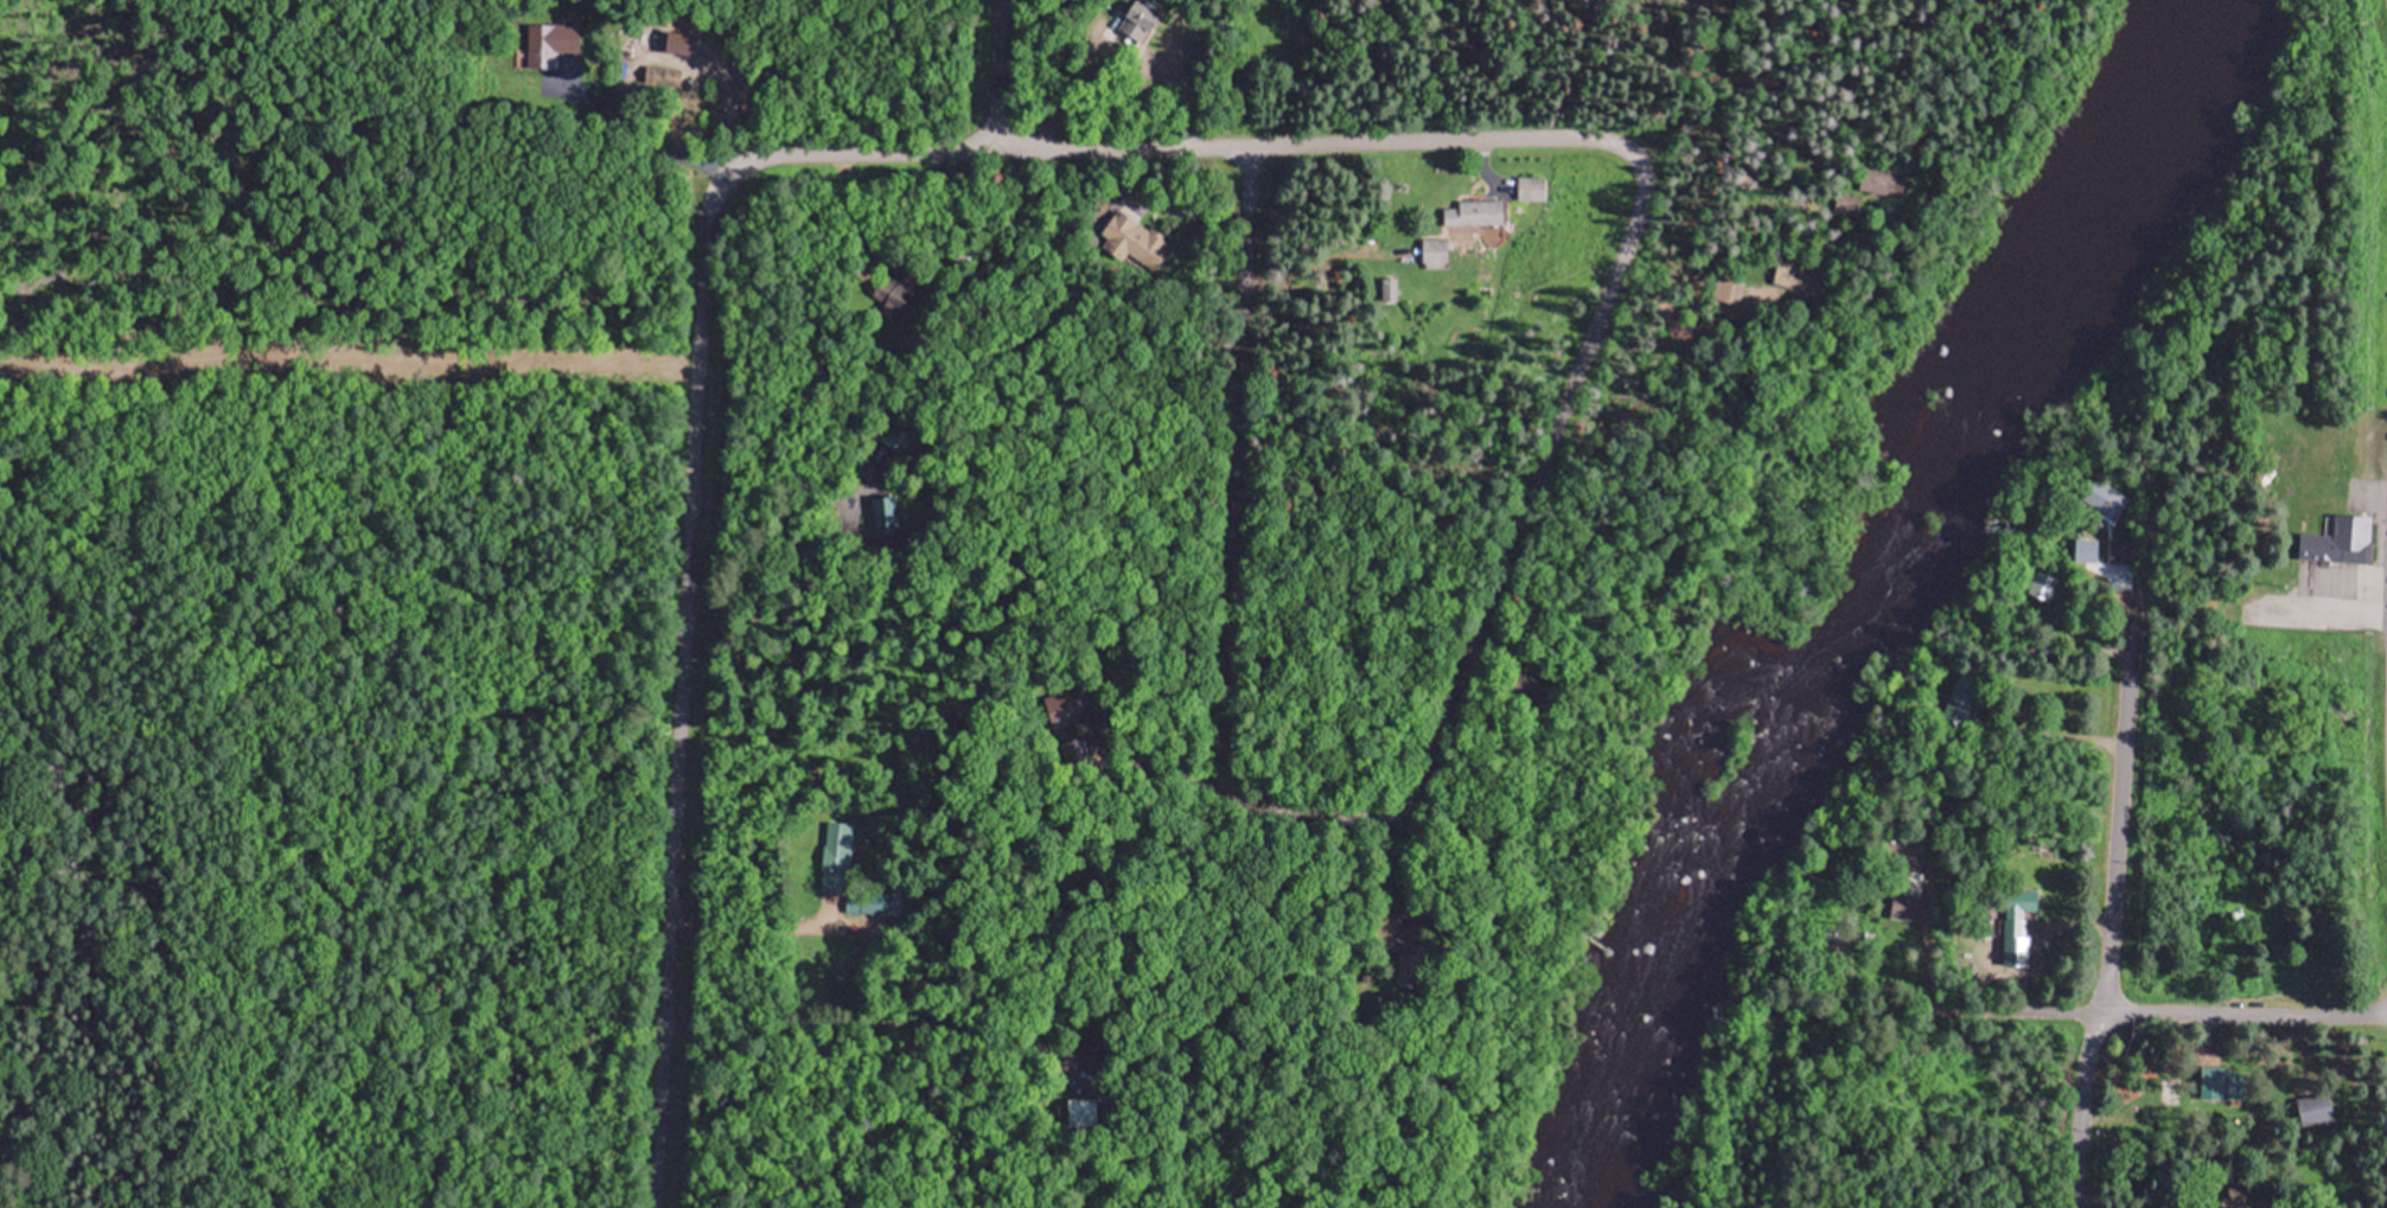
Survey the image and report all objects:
building: (1199, 1)
building: (1141, 18)
building: (545, 41)
road: (1118, 56)
road: (987, 72)
building: (660, 75)
road: (1684, 85)
road: (642, 136)
road: (1150, 143)
building: (1466, 212)
building: (1130, 238)
building: (1789, 273)
building: (891, 290)
road: (1226, 471)
building: (2337, 538)
building: (2119, 550)
road: (1498, 565)
building: (2040, 581)
river: (1885, 603)
road: (2315, 608)
building: (1962, 692)
road: (681, 707)
building: (1060, 707)
building: (1071, 748)
road: (1156, 763)
road: (1891, 788)
road: (2108, 806)
building: (836, 855)
building: (1906, 910)
building: (2017, 910)
road: (754, 926)
road: (1971, 1004)
road: (2240, 1008)
road: (1906, 1046)
road: (1974, 1055)
building: (2221, 1082)
road: (2072, 1106)
building: (2313, 1107)

